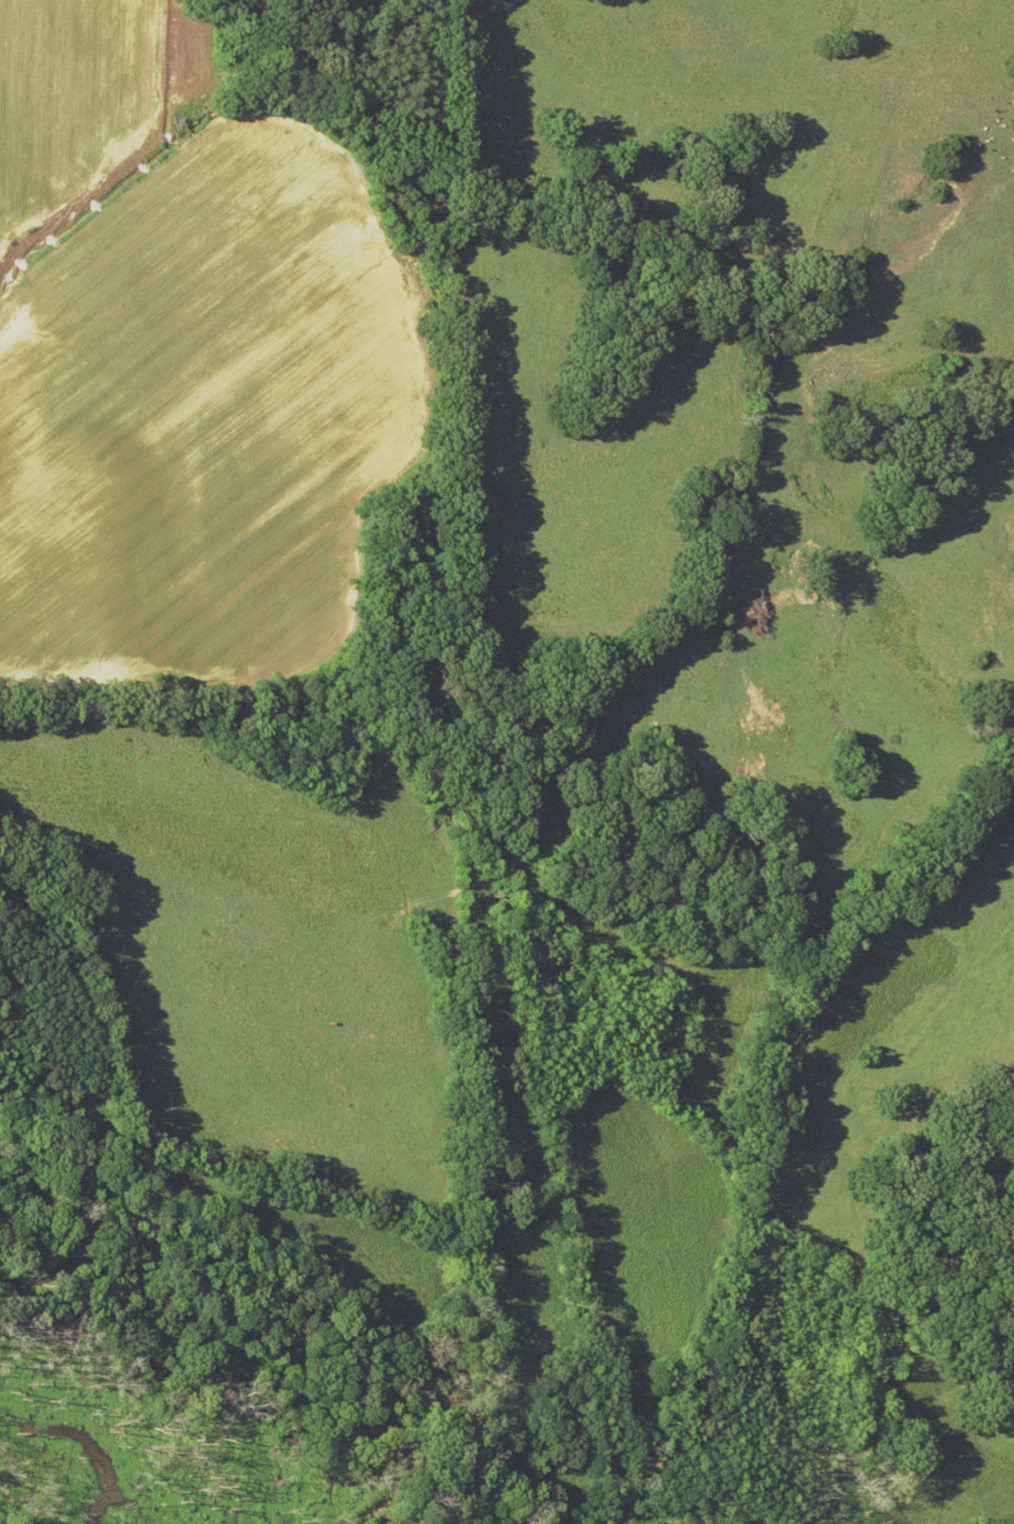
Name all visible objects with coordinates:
road: (734, 460)

